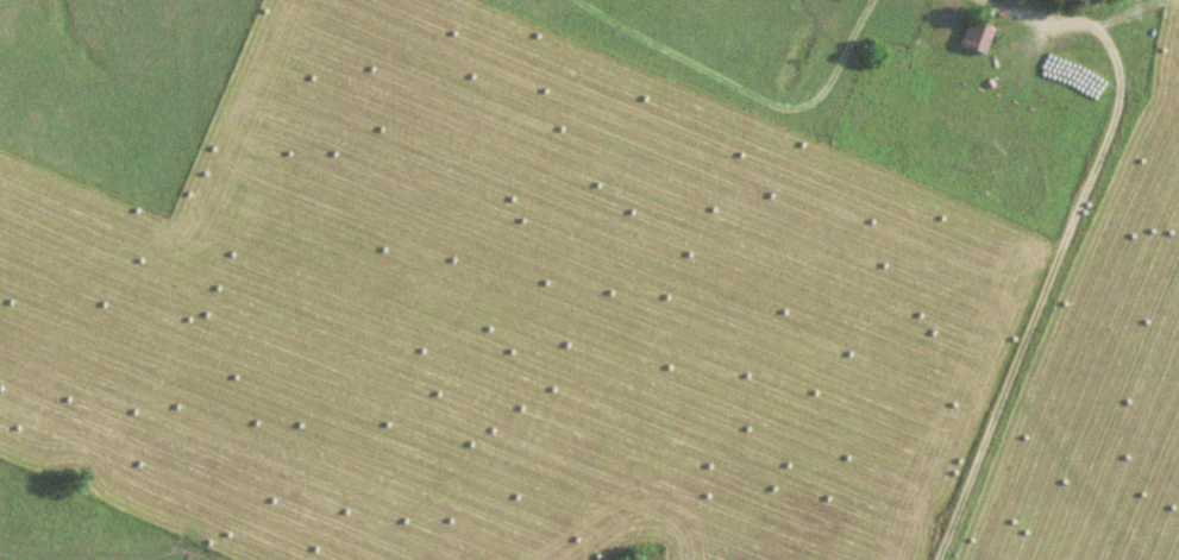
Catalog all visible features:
building: (974, 38)
road: (1065, 239)

